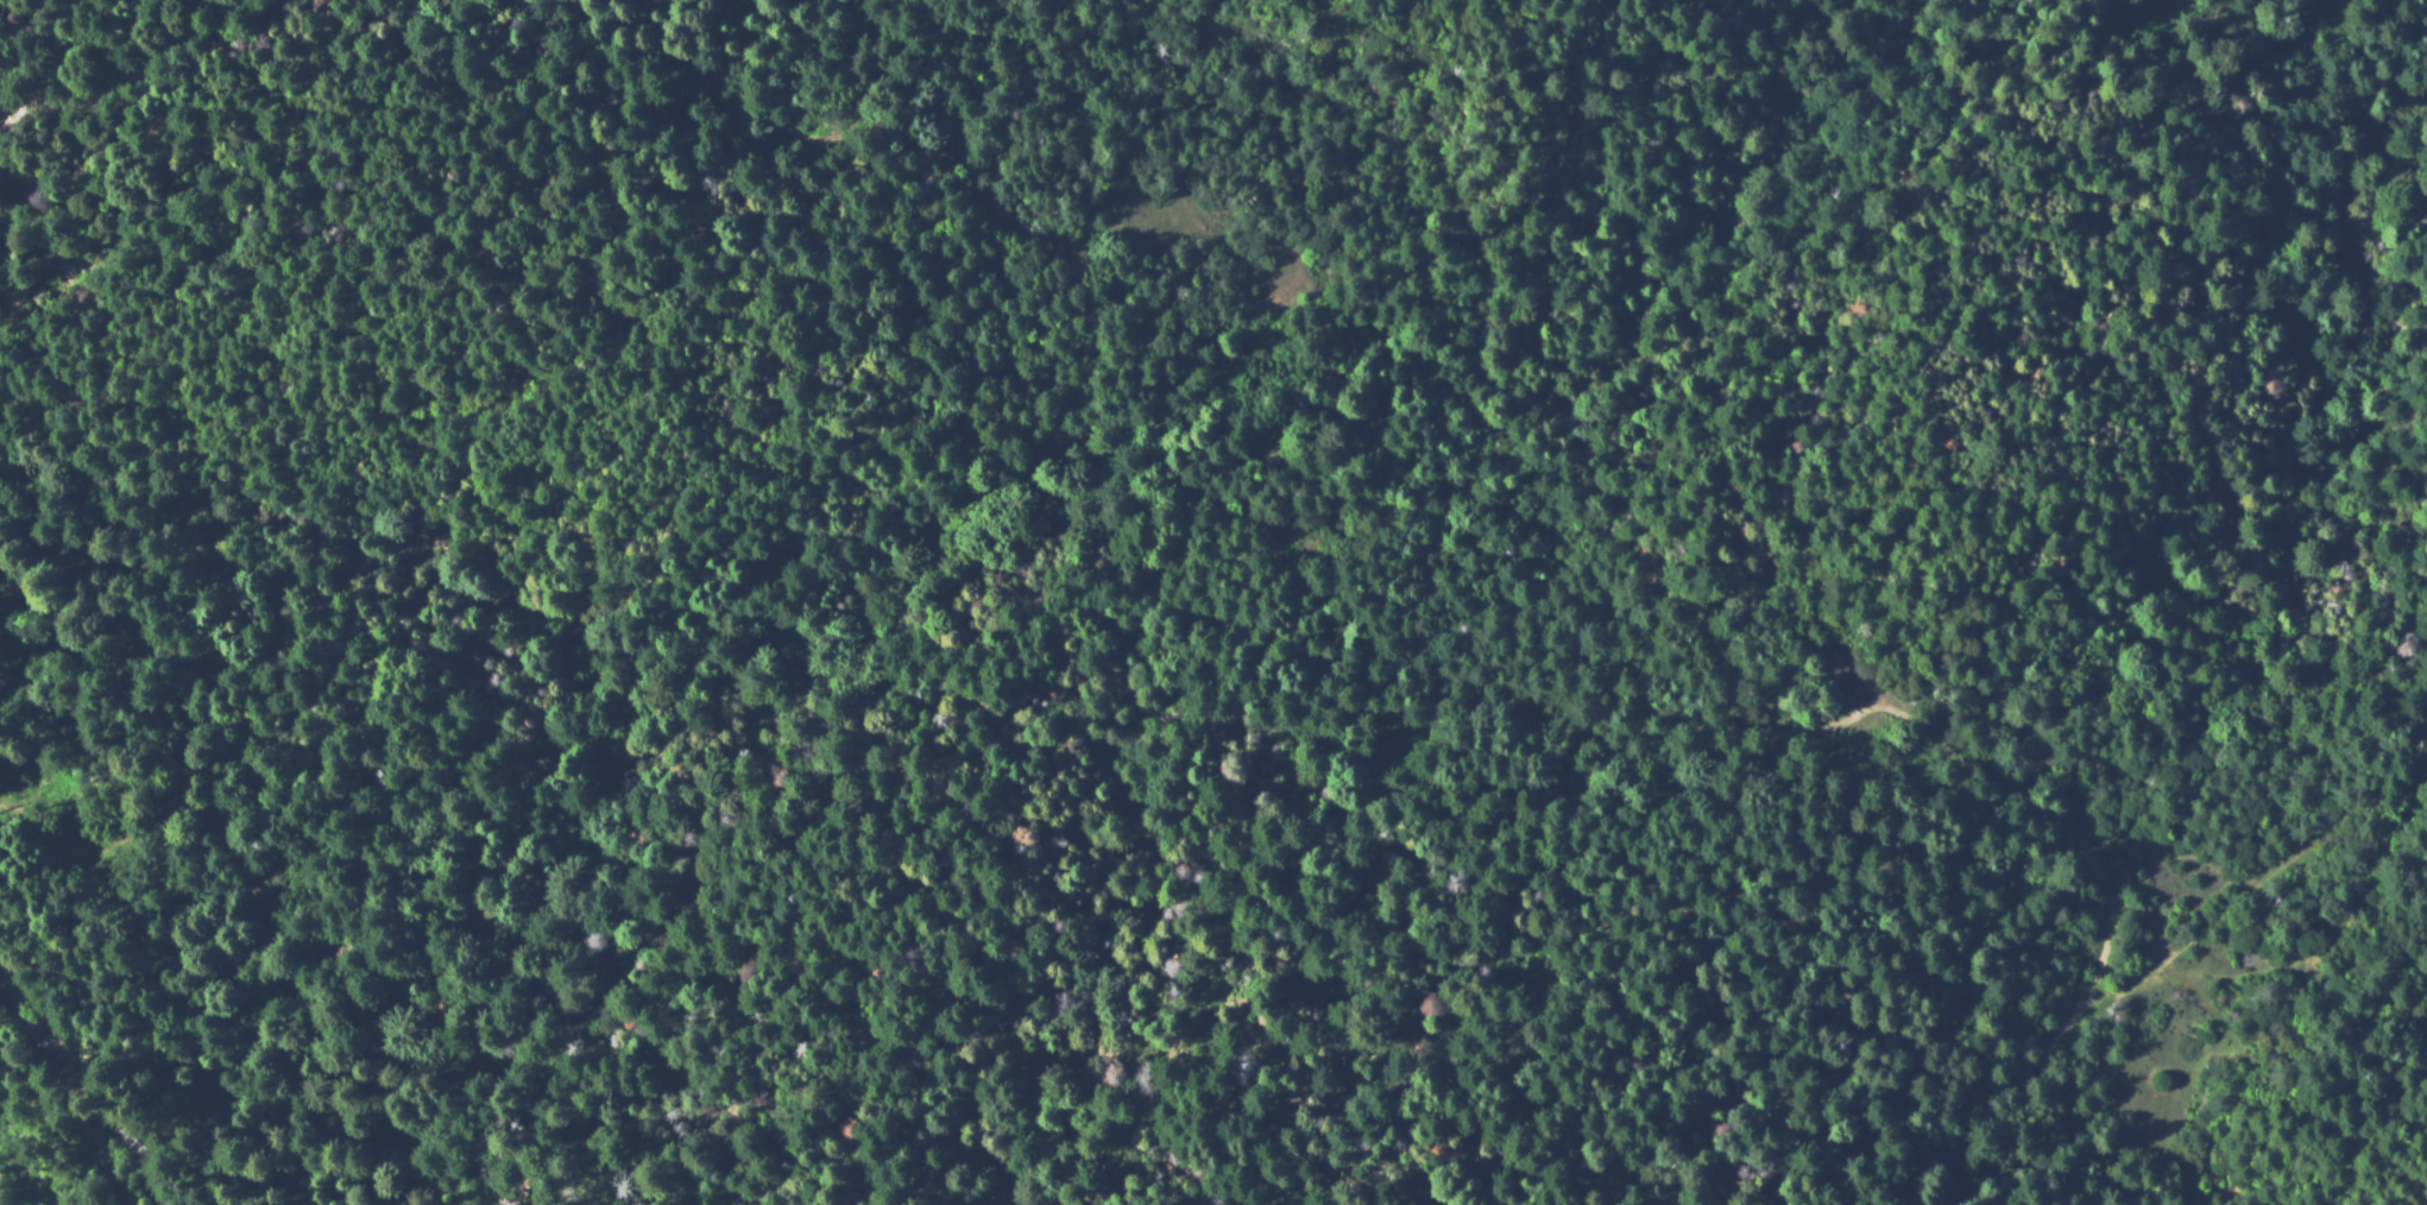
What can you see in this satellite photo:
road: (86, 1083)

